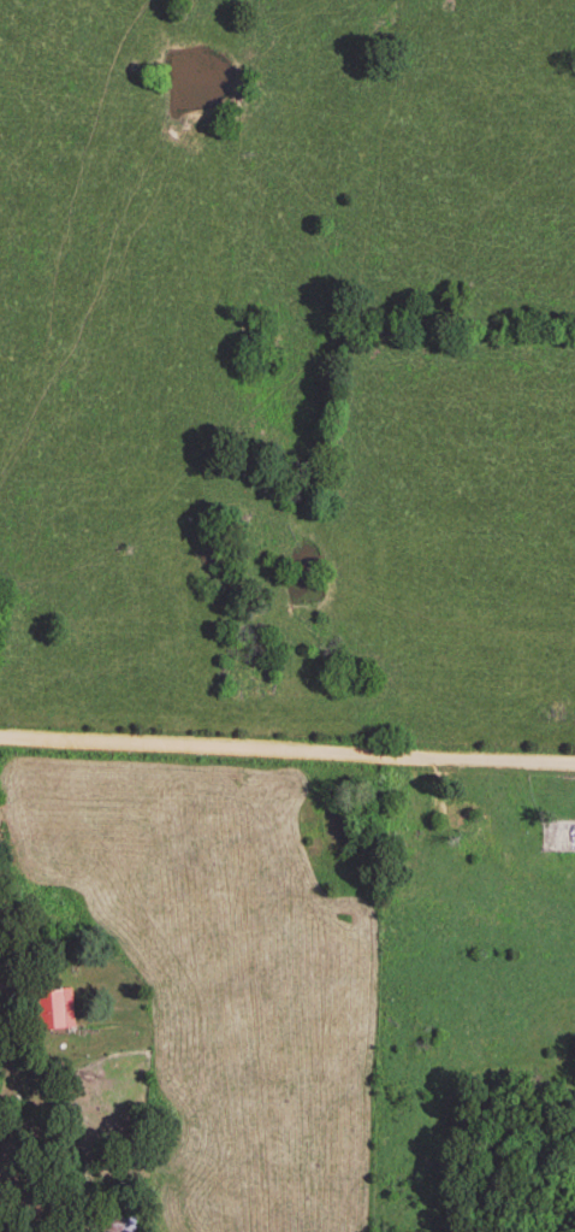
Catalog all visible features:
road: (286, 756)
building: (48, 1012)
building: (114, 1225)

